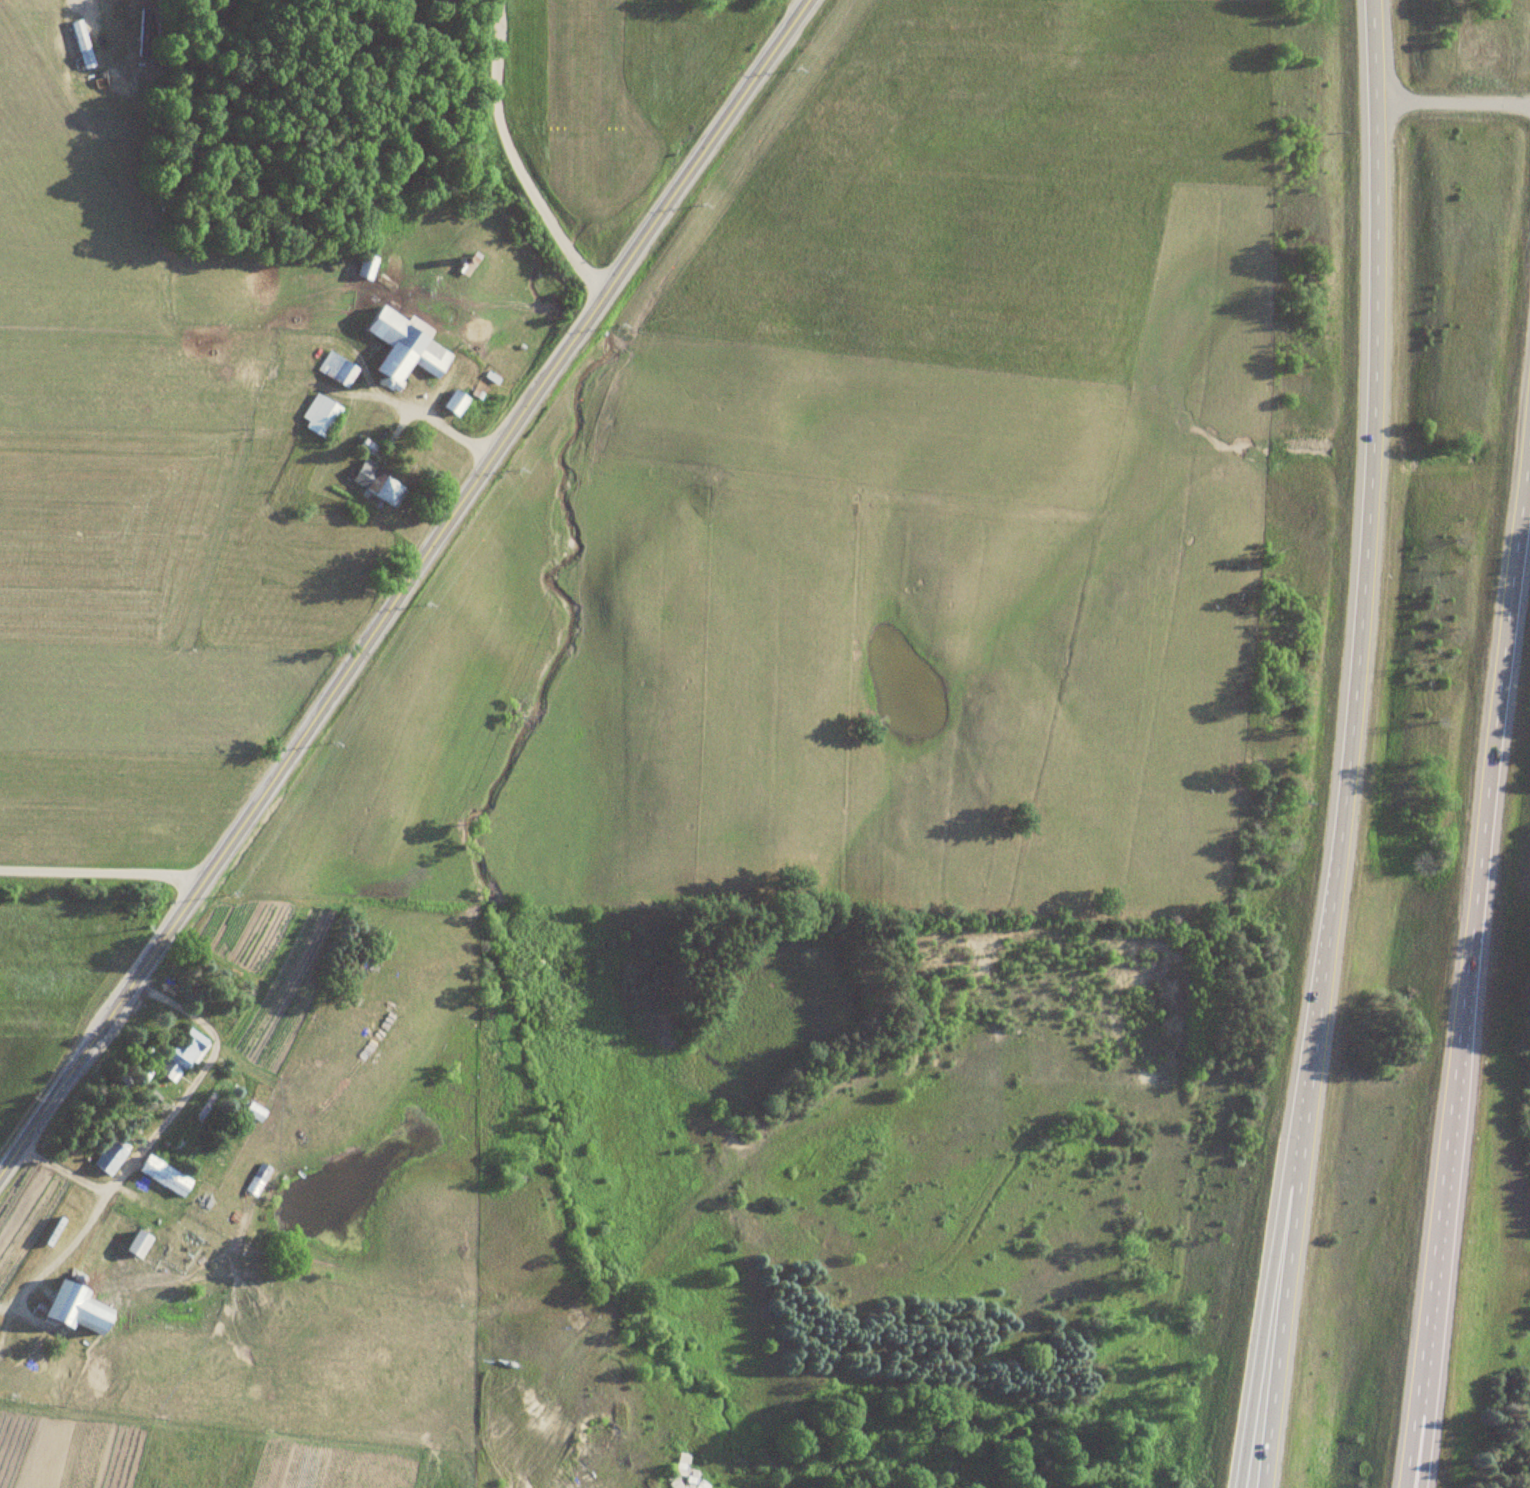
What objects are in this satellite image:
building: (146, 31)
building: (81, 44)
airport runway: (587, 65)
road: (1463, 113)
road: (511, 161)
building: (364, 266)
building: (404, 347)
building: (336, 369)
building: (454, 401)
building: (319, 414)
road: (437, 427)
building: (377, 482)
road: (1365, 563)
road: (407, 584)
road: (98, 875)
road: (1471, 927)
building: (338, 1007)
building: (180, 1056)
building: (254, 1113)
building: (110, 1157)
building: (165, 1177)
building: (257, 1180)
building: (137, 1244)
road: (1265, 1306)
road: (1283, 1307)
building: (76, 1310)
road: (1408, 1444)
road: (1416, 1444)

